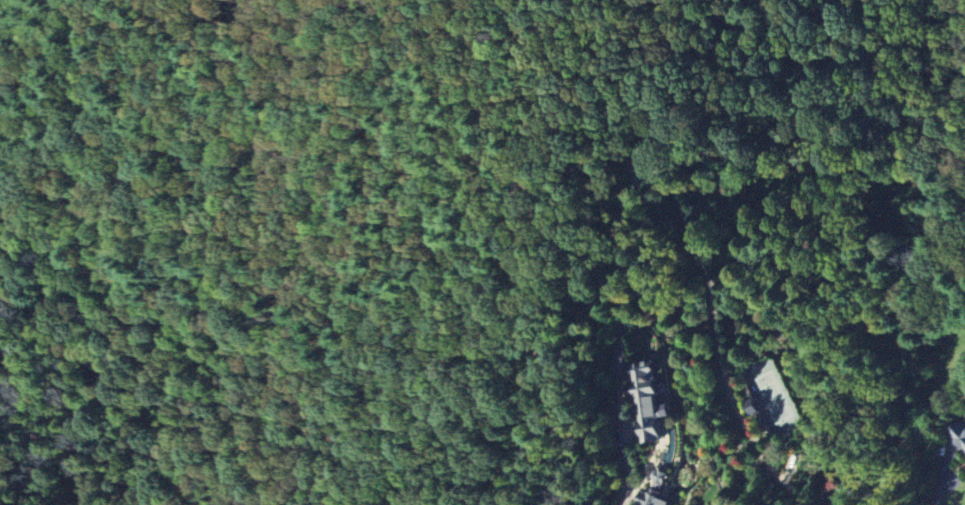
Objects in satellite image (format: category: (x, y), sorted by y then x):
road: (681, 207)
building: (657, 400)
building: (958, 436)
road: (943, 476)
building: (657, 497)

